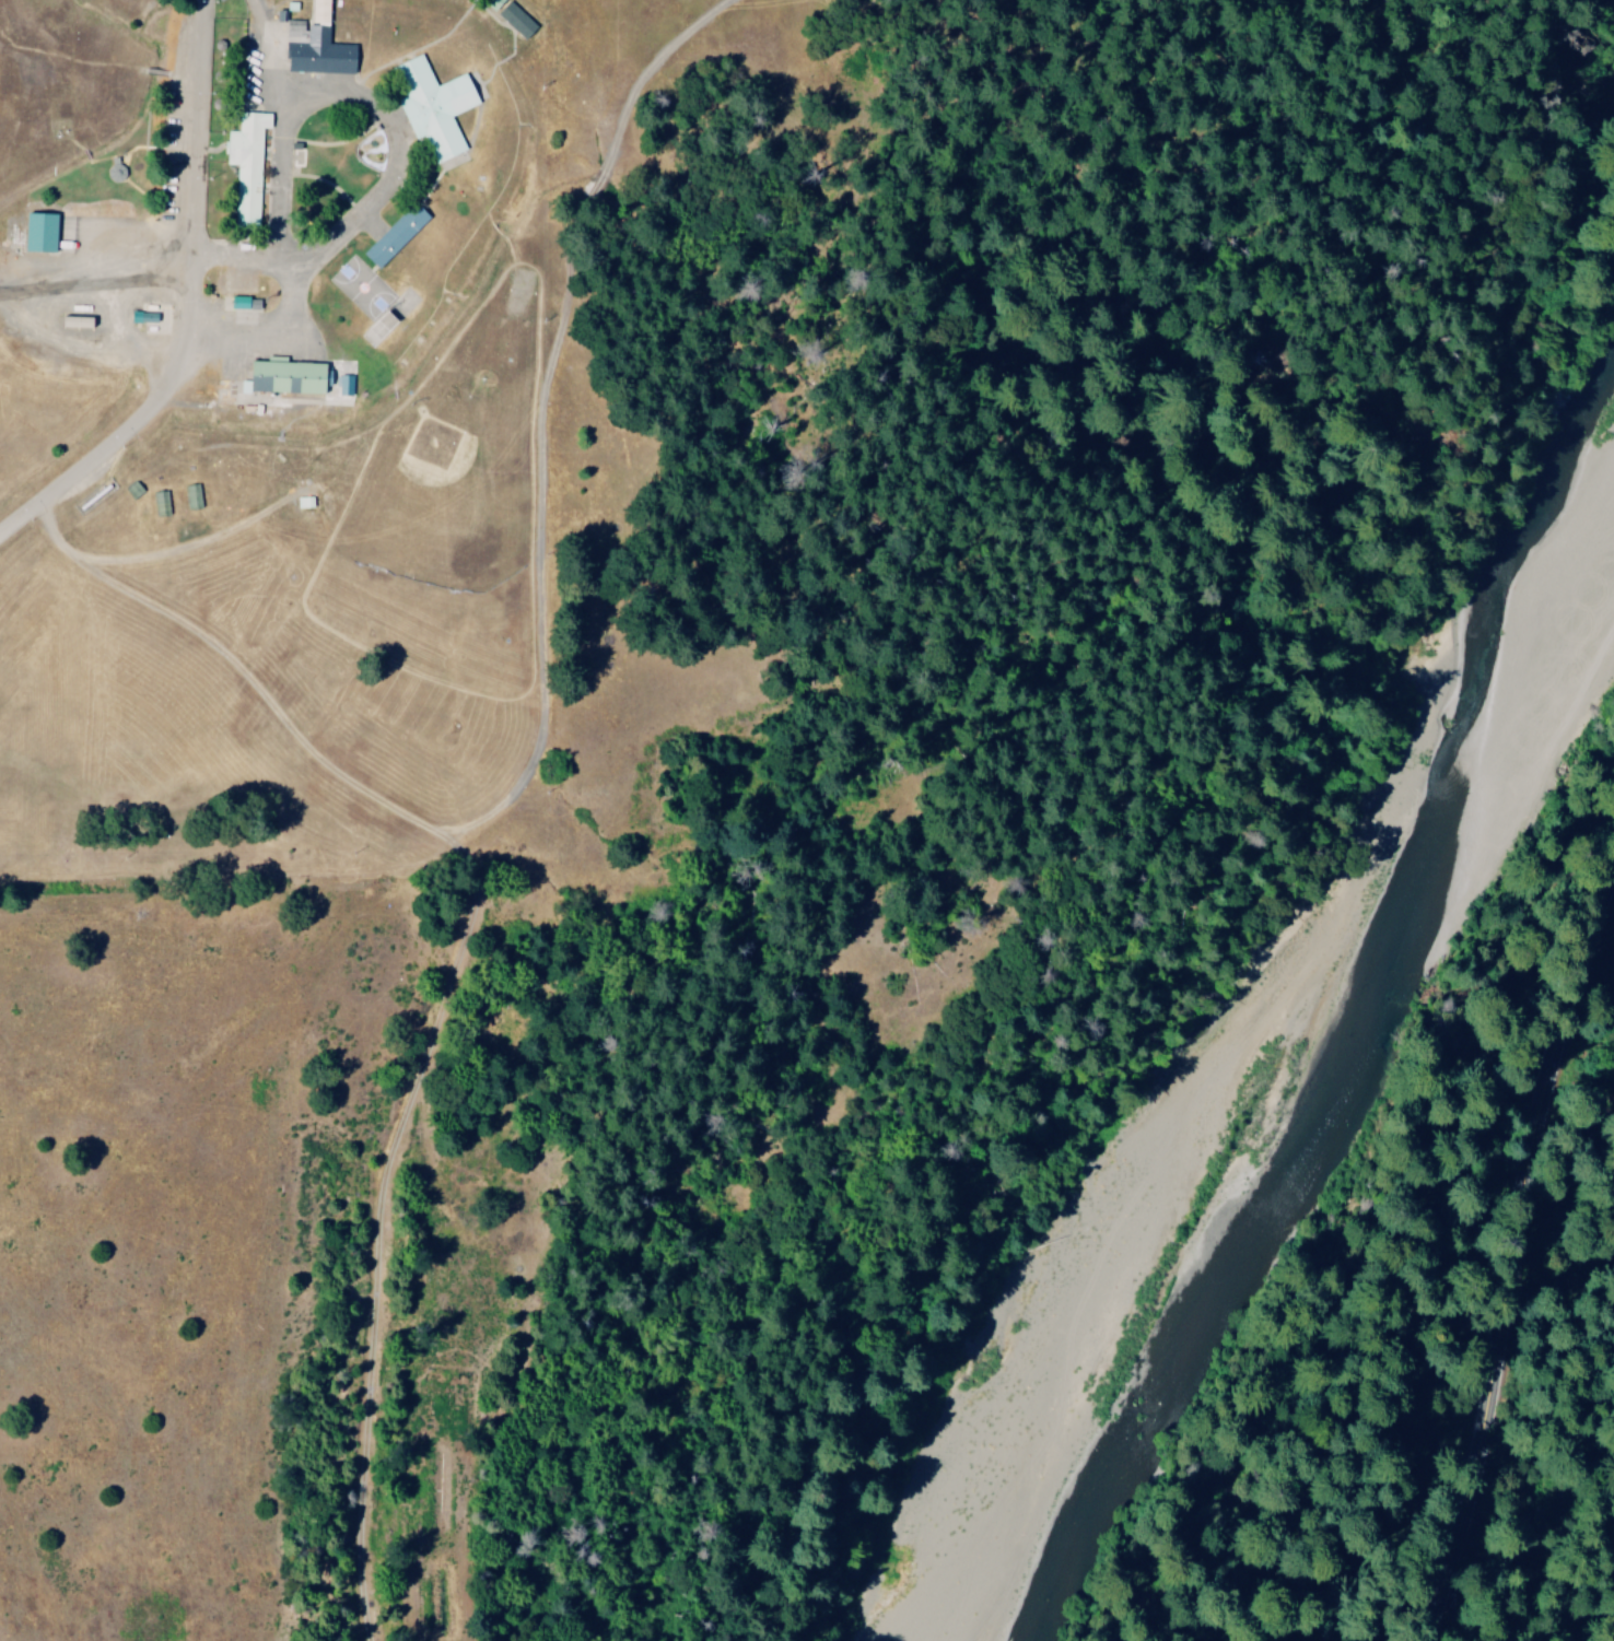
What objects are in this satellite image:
building: (489, 3)
building: (514, 21)
building: (314, 45)
building: (431, 106)
road: (387, 107)
road: (201, 133)
building: (245, 165)
building: (36, 233)
building: (393, 236)
building: (236, 302)
building: (72, 321)
building: (282, 376)
building: (342, 385)
road: (182, 402)
river: (1504, 819)
road: (1509, 1286)
river: (1226, 1316)

